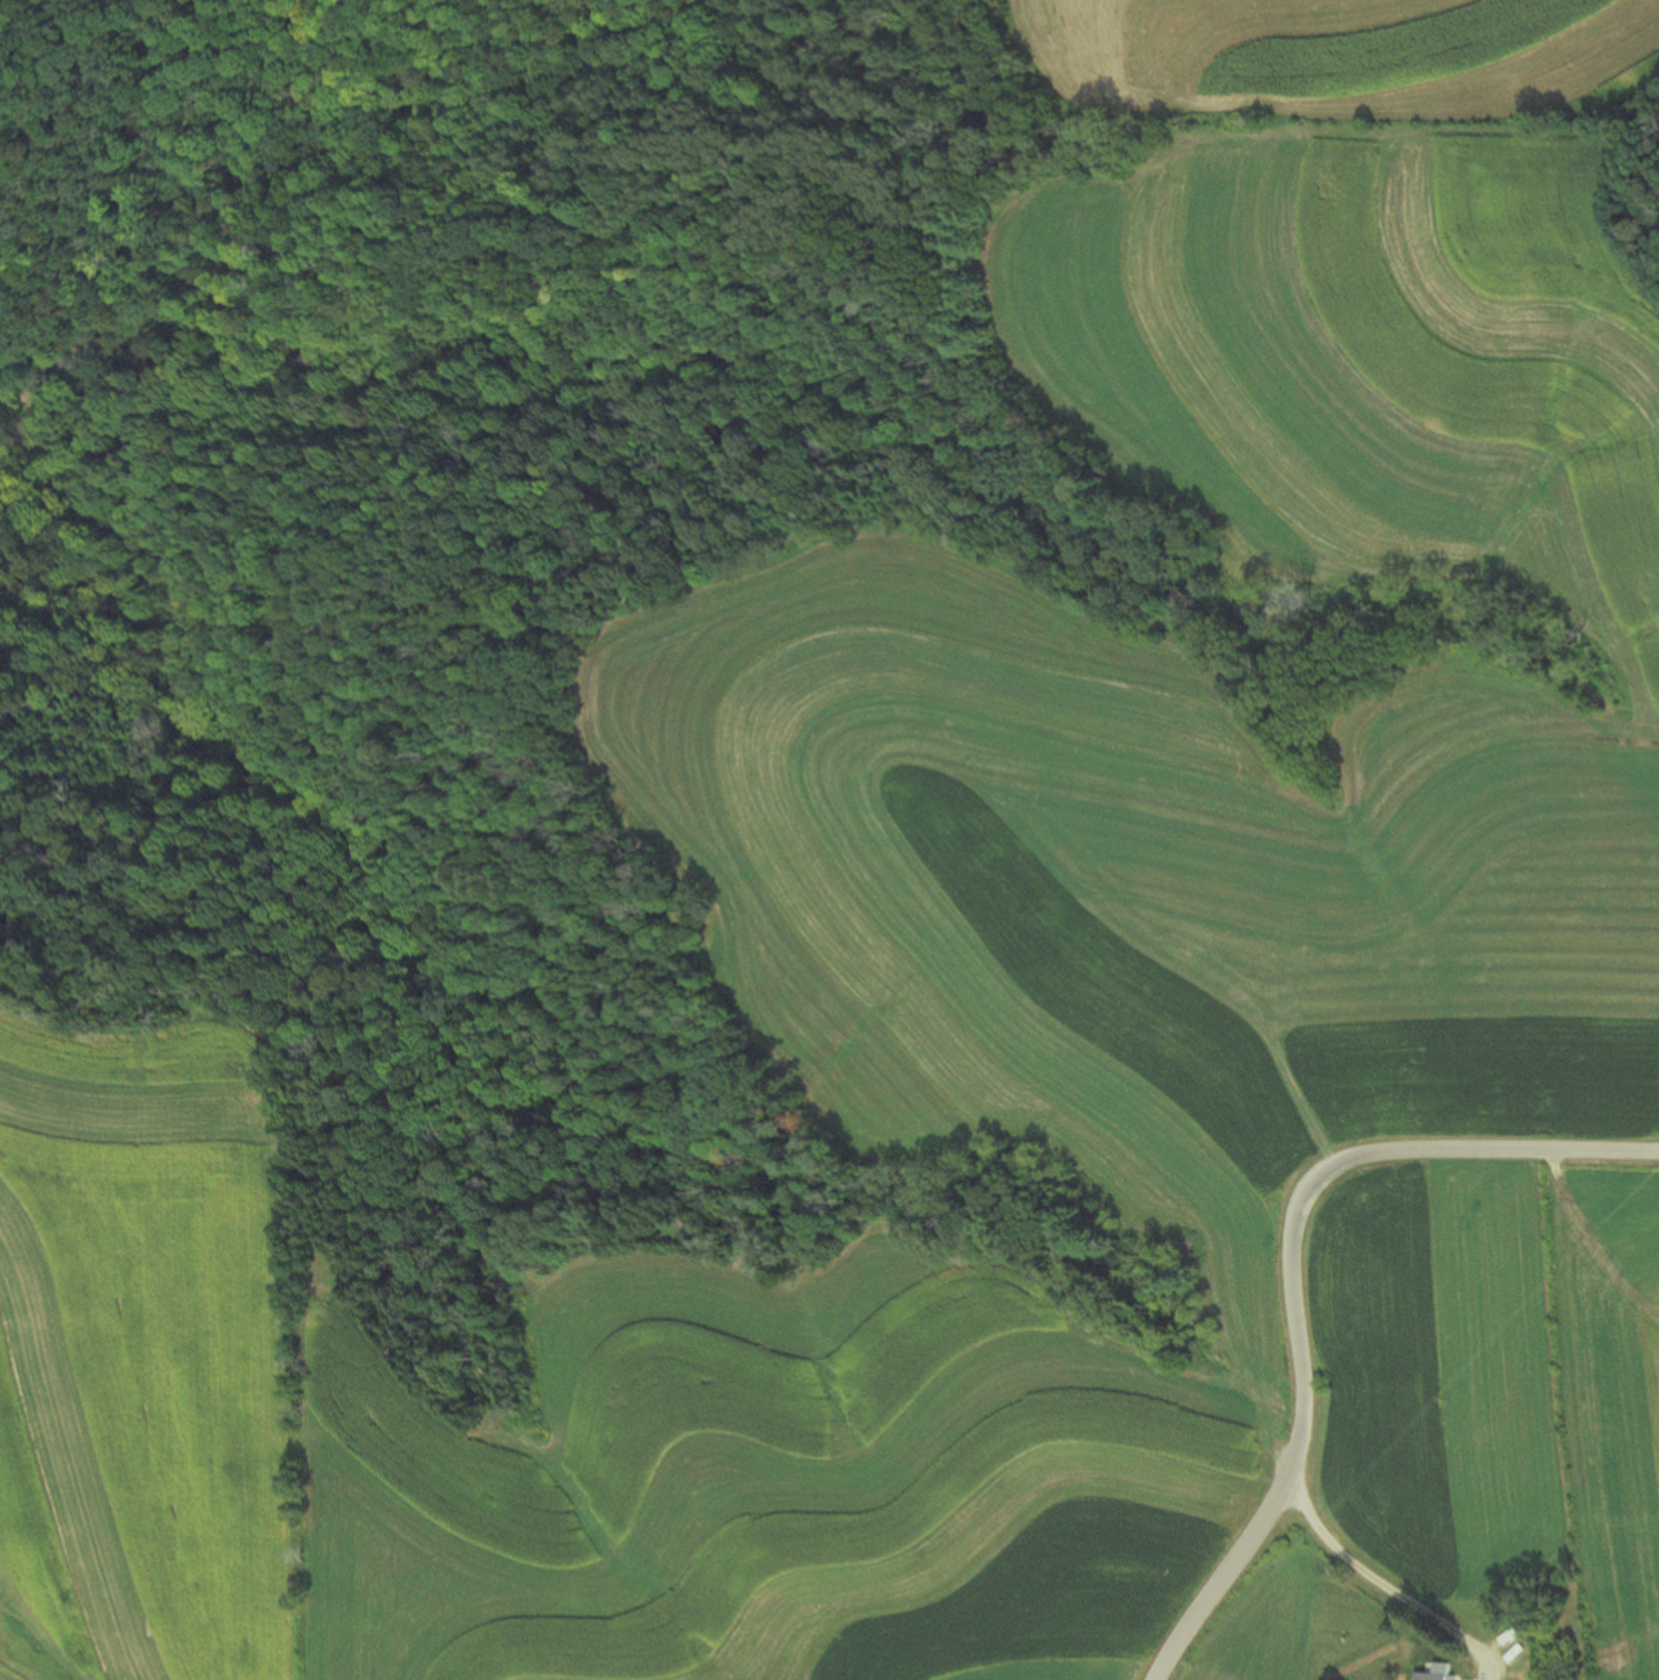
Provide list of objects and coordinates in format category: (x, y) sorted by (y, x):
road: (1296, 1273)
road: (1375, 1581)

